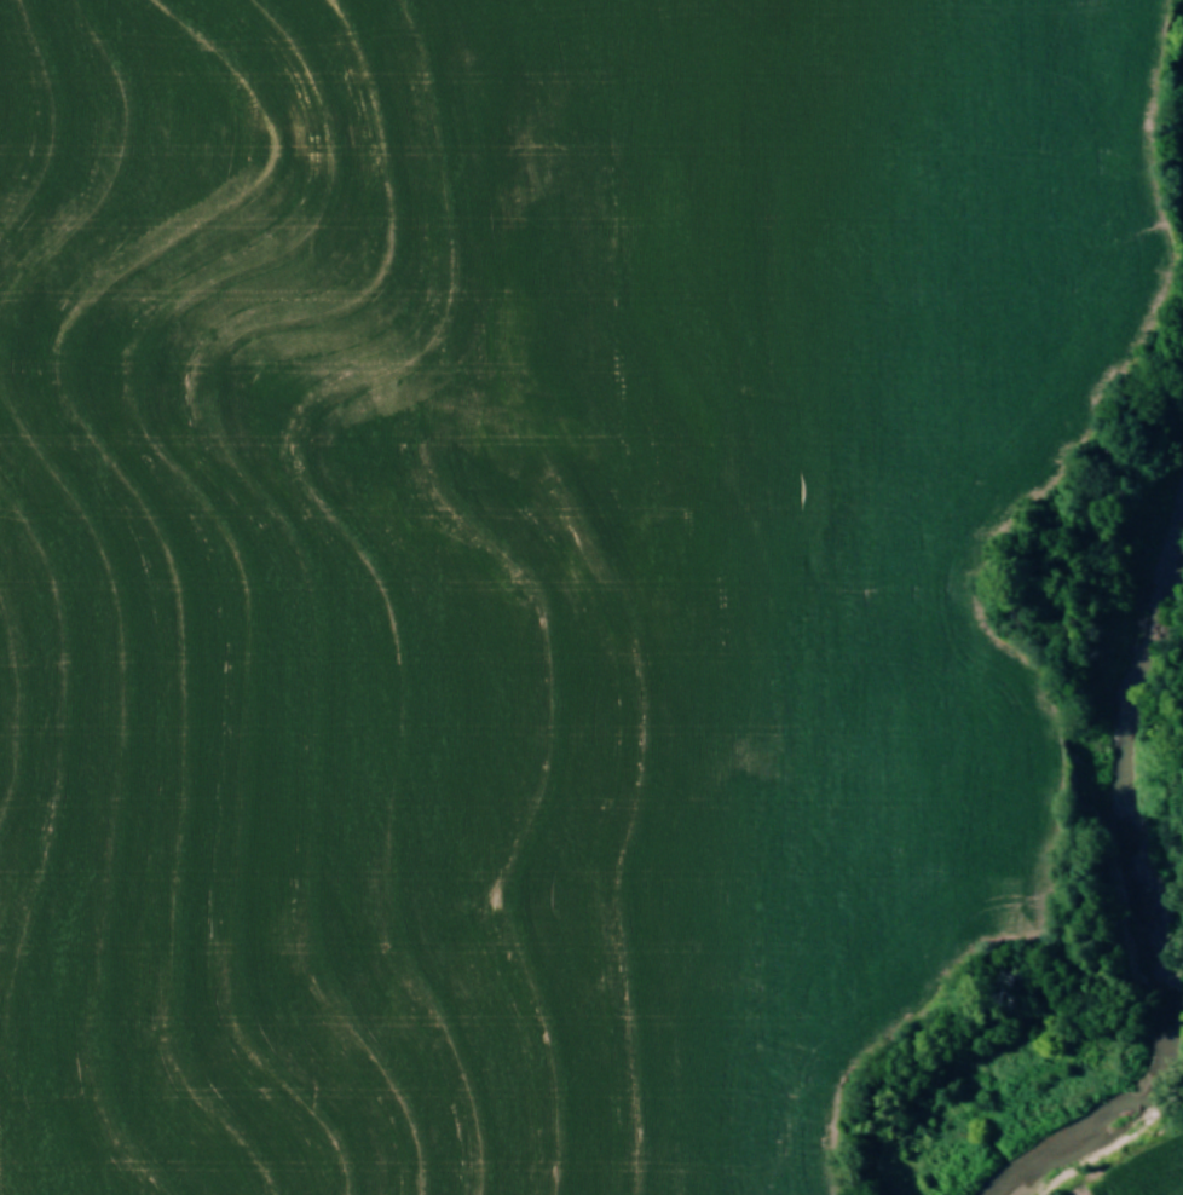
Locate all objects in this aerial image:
river: (1143, 887)

